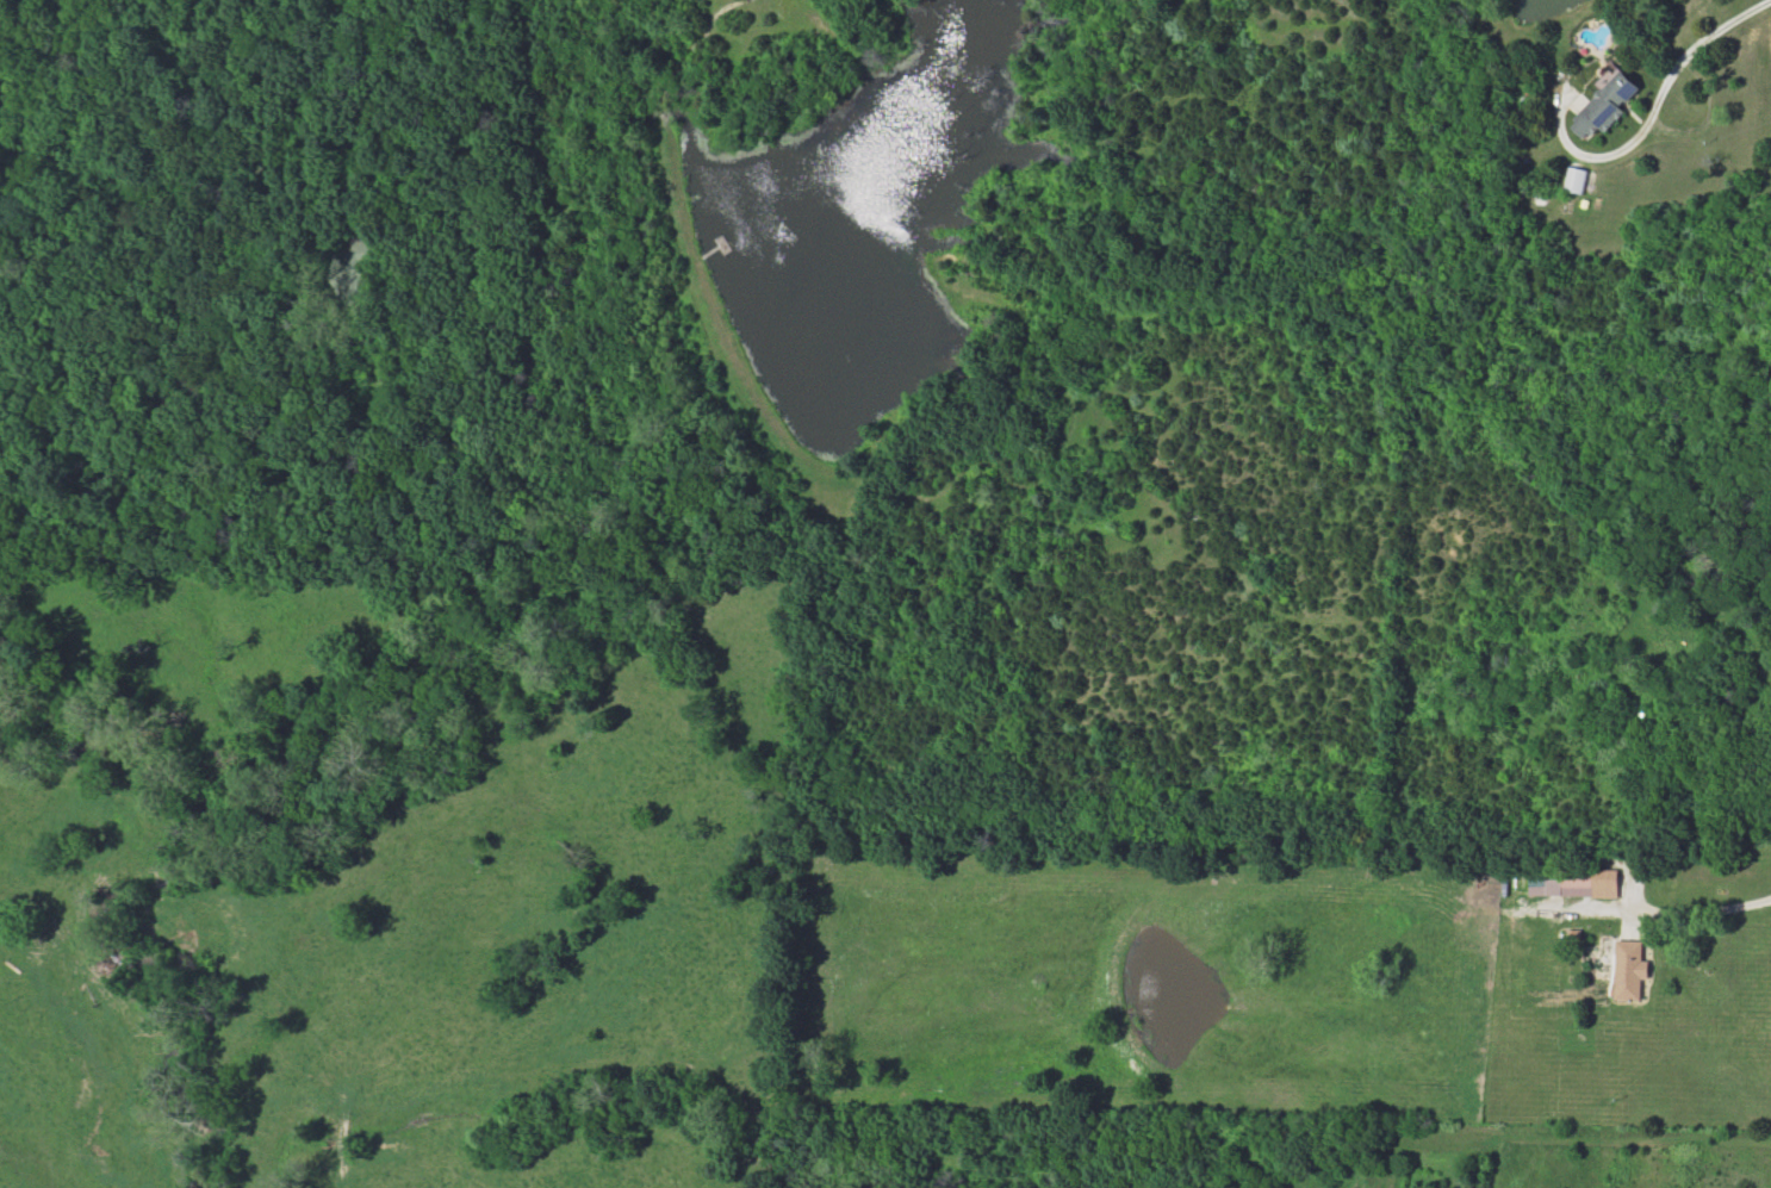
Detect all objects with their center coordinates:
building: (1607, 106)
road: (1649, 111)
building: (1576, 181)
building: (1573, 883)
road: (1702, 909)
building: (1630, 971)

